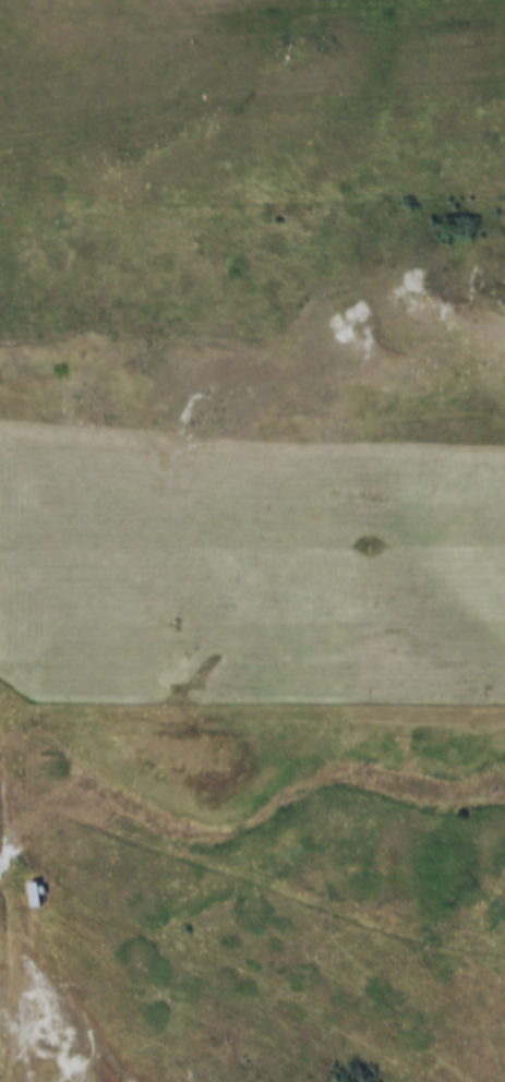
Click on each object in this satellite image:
road: (252, 203)
road: (395, 315)
building: (34, 892)
building: (22, 895)
road: (238, 965)
road: (60, 1000)

